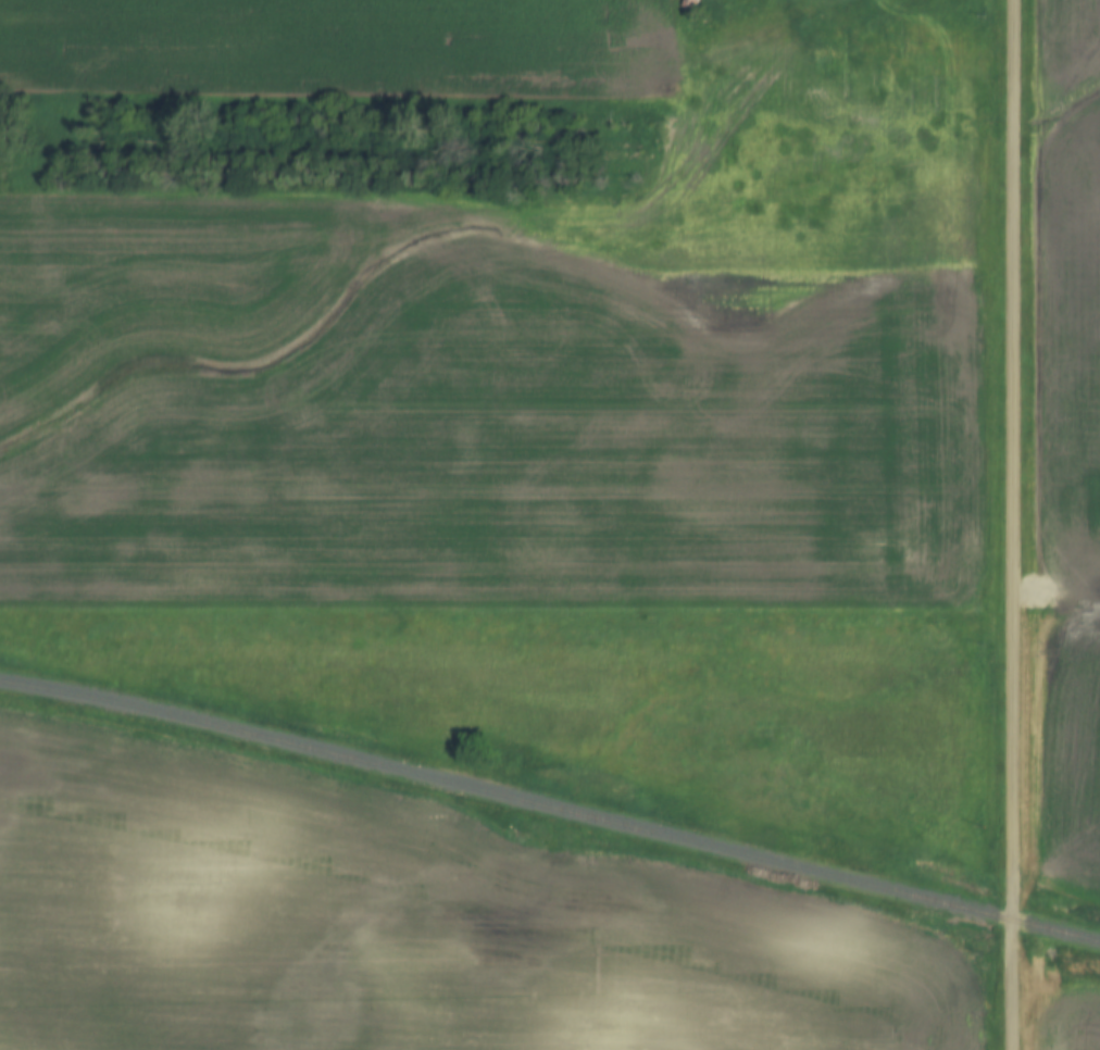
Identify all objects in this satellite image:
building: (690, 3)
road: (1014, 524)
railway: (550, 808)

